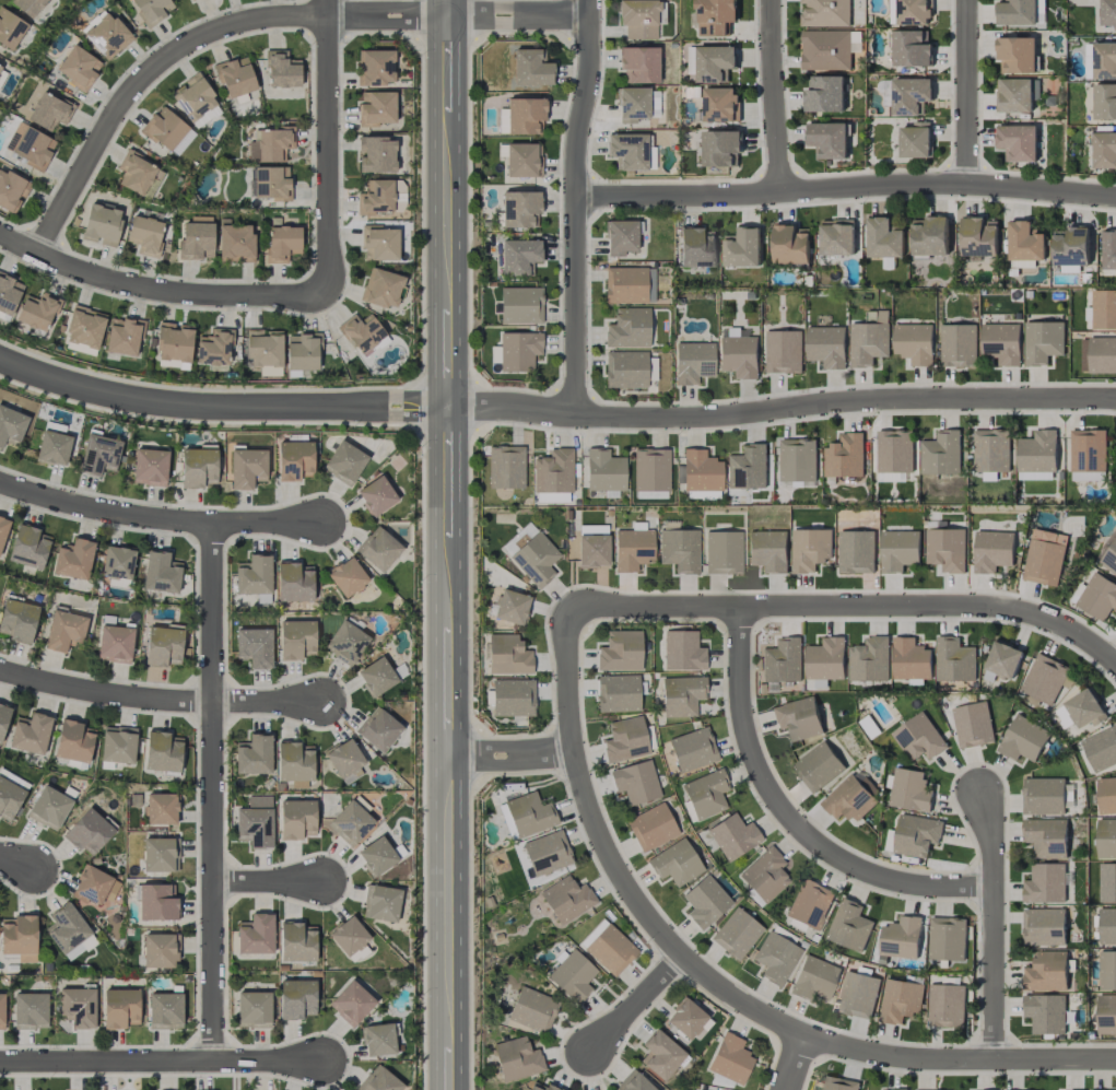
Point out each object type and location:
building: (191, 0)
building: (28, 5)
building: (152, 9)
road: (446, 9)
building: (1017, 12)
building: (825, 13)
building: (1107, 13)
building: (715, 16)
building: (638, 19)
road: (255, 21)
building: (10, 28)
building: (107, 35)
building: (855, 42)
building: (911, 49)
building: (825, 50)
building: (1017, 55)
building: (1100, 61)
building: (710, 62)
building: (638, 63)
building: (375, 67)
building: (0, 68)
building: (79, 68)
building: (531, 68)
building: (282, 70)
building: (235, 77)
road: (967, 93)
building: (824, 94)
building: (1015, 95)
road: (774, 96)
building: (911, 96)
building: (193, 97)
building: (1105, 102)
building: (632, 104)
building: (720, 105)
building: (376, 108)
building: (49, 110)
building: (524, 115)
building: (205, 116)
building: (167, 131)
building: (827, 140)
building: (915, 140)
building: (1018, 142)
building: (270, 144)
building: (30, 145)
road: (328, 146)
building: (720, 148)
building: (1104, 150)
building: (631, 151)
building: (376, 154)
building: (522, 160)
building: (138, 173)
building: (271, 183)
road: (847, 189)
building: (11, 190)
building: (376, 197)
road: (578, 206)
building: (520, 209)
building: (102, 224)
building: (145, 234)
building: (930, 236)
building: (621, 237)
building: (836, 237)
building: (978, 237)
building: (884, 238)
building: (197, 241)
building: (236, 242)
building: (1025, 242)
building: (282, 243)
building: (379, 243)
building: (791, 245)
building: (1071, 246)
building: (697, 247)
building: (742, 248)
building: (1108, 249)
building: (519, 257)
building: (1022, 265)
building: (629, 284)
building: (381, 288)
road: (158, 289)
building: (520, 305)
building: (1103, 309)
building: (37, 310)
building: (878, 316)
building: (84, 327)
building: (629, 328)
building: (362, 332)
building: (124, 336)
building: (174, 341)
building: (1043, 342)
building: (868, 343)
building: (914, 343)
building: (1001, 343)
building: (958, 345)
building: (214, 347)
building: (826, 347)
building: (265, 348)
building: (518, 350)
building: (303, 351)
building: (784, 352)
building: (739, 354)
building: (1102, 354)
building: (693, 362)
building: (625, 368)
road: (447, 387)
road: (220, 408)
road: (780, 408)
building: (11, 425)
building: (52, 447)
building: (894, 450)
building: (991, 450)
building: (1088, 450)
building: (1037, 452)
building: (99, 454)
building: (941, 454)
building: (844, 456)
building: (294, 459)
building: (344, 462)
building: (798, 462)
building: (198, 466)
building: (150, 467)
building: (506, 467)
building: (748, 467)
building: (247, 468)
building: (650, 469)
building: (604, 470)
building: (553, 471)
building: (701, 471)
building: (1088, 476)
building: (891, 477)
building: (376, 495)
building: (551, 497)
road: (157, 520)
building: (3, 528)
building: (27, 547)
building: (633, 548)
building: (378, 549)
building: (680, 549)
building: (810, 549)
building: (945, 549)
building: (592, 550)
building: (768, 550)
building: (898, 550)
building: (992, 551)
building: (724, 552)
building: (856, 552)
building: (1108, 555)
building: (533, 556)
building: (1044, 556)
building: (73, 560)
building: (117, 562)
building: (161, 572)
building: (254, 575)
building: (346, 576)
building: (294, 582)
building: (1097, 597)
building: (510, 607)
road: (848, 607)
building: (17, 620)
building: (64, 630)
building: (296, 638)
building: (345, 642)
building: (115, 643)
building: (163, 645)
building: (254, 646)
building: (620, 651)
building: (682, 651)
building: (508, 655)
building: (825, 659)
building: (911, 659)
building: (1003, 659)
building: (782, 660)
building: (869, 660)
building: (954, 660)
building: (376, 676)
building: (1045, 679)
building: (817, 684)
building: (618, 693)
building: (682, 695)
building: (513, 696)
road: (158, 700)
building: (1084, 710)
building: (1064, 716)
building: (3, 718)
building: (798, 718)
building: (973, 725)
building: (378, 728)
building: (31, 732)
building: (918, 738)
building: (625, 739)
building: (1023, 739)
building: (74, 741)
building: (118, 745)
building: (693, 749)
building: (1101, 749)
building: (163, 751)
building: (254, 754)
road: (512, 755)
building: (344, 759)
building: (294, 762)
building: (818, 766)
building: (635, 782)
building: (909, 790)
road: (213, 793)
building: (705, 793)
building: (1106, 795)
building: (1043, 796)
building: (9, 799)
building: (848, 799)
building: (49, 807)
building: (161, 808)
building: (529, 813)
road: (790, 818)
building: (296, 819)
building: (351, 821)
building: (255, 822)
building: (651, 827)
building: (89, 832)
building: (732, 835)
building: (916, 835)
building: (1046, 837)
building: (1106, 839)
building: (547, 853)
building: (158, 854)
building: (377, 855)
road: (16, 860)
building: (674, 863)
building: (764, 875)
road: (269, 879)
building: (1045, 883)
building: (1107, 883)
building: (93, 886)
building: (566, 899)
building: (705, 901)
building: (157, 902)
building: (380, 903)
building: (810, 904)
road: (448, 924)
building: (849, 926)
building: (1107, 926)
road: (994, 927)
building: (1043, 927)
building: (67, 928)
building: (737, 933)
building: (255, 934)
building: (348, 935)
building: (19, 937)
building: (901, 938)
building: (947, 939)
building: (296, 941)
building: (608, 947)
building: (80, 948)
building: (160, 950)
building: (776, 958)
building: (1107, 970)
building: (1046, 972)
building: (573, 975)
building: (814, 978)
road: (712, 982)
building: (857, 995)
building: (296, 998)
building: (900, 1000)
building: (351, 1003)
road: (637, 1005)
building: (945, 1005)
building: (78, 1006)
building: (120, 1008)
building: (254, 1009)
building: (533, 1009)
building: (1, 1010)
building: (30, 1010)
building: (165, 1010)
building: (1045, 1013)
building: (1106, 1015)
building: (685, 1018)
building: (378, 1039)
building: (660, 1055)
building: (517, 1058)
building: (730, 1058)
road: (161, 1059)
road: (794, 1064)
building: (379, 1080)
building: (634, 1082)
building: (838, 1083)
building: (541, 1087)
building: (896, 1089)

